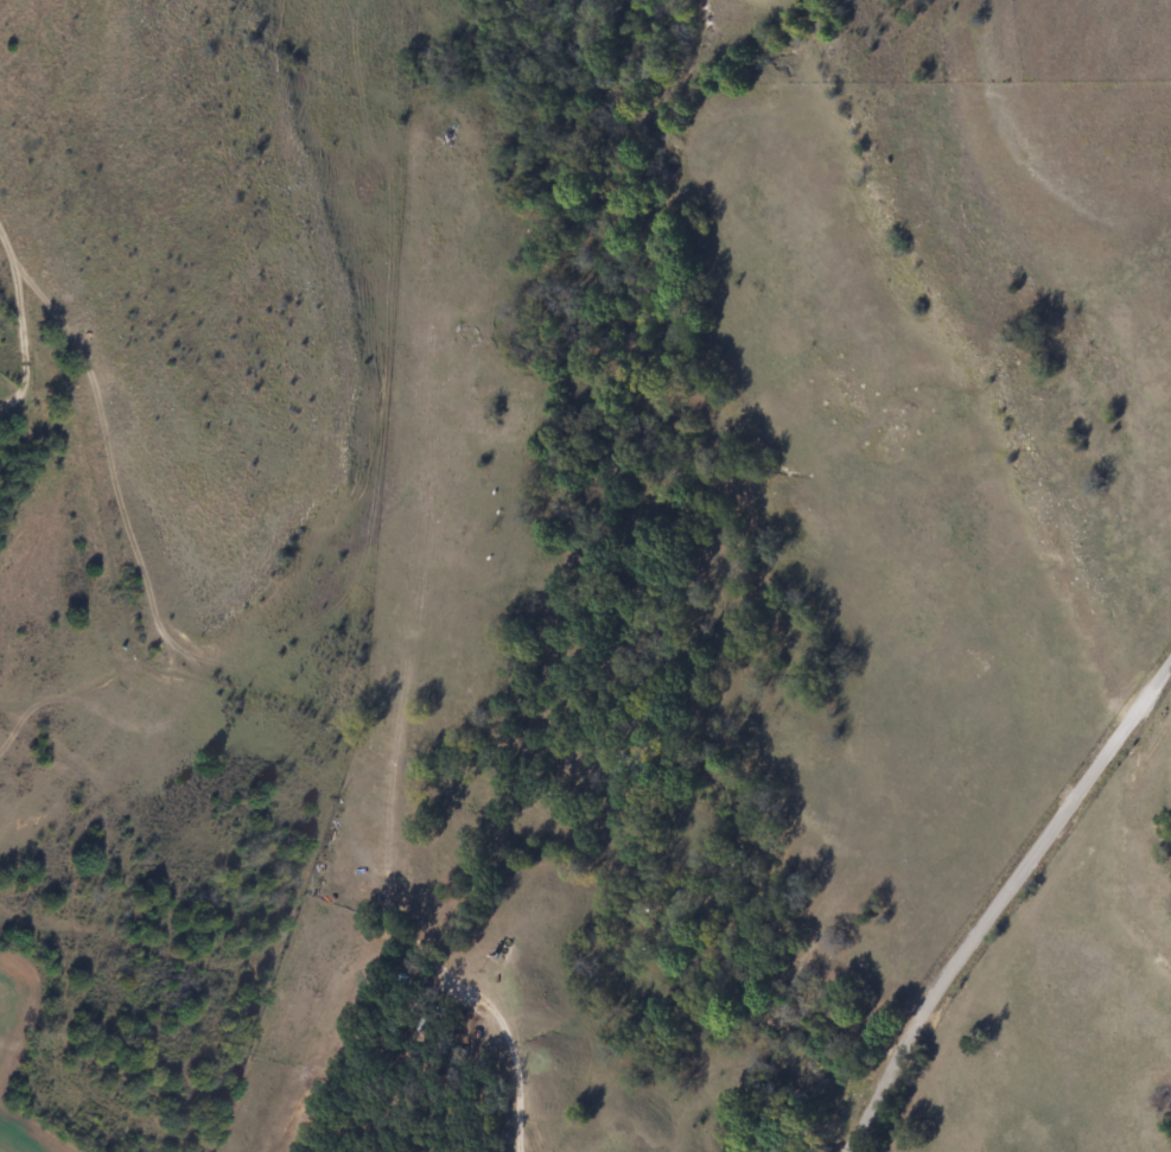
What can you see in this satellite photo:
road: (5, 206)
road: (1007, 899)

